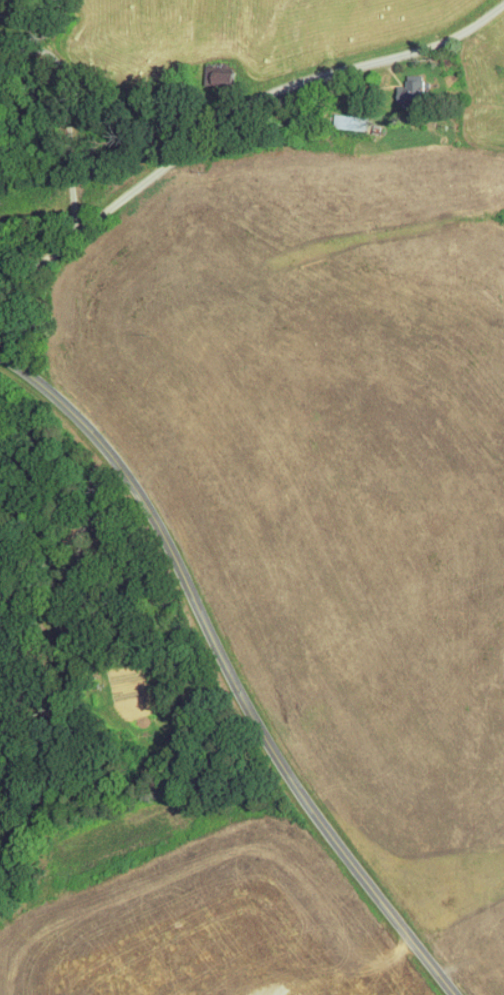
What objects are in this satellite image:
building: (203, 68)
building: (396, 82)
road: (234, 101)
building: (331, 114)
road: (53, 119)
road: (33, 602)
road: (229, 669)

